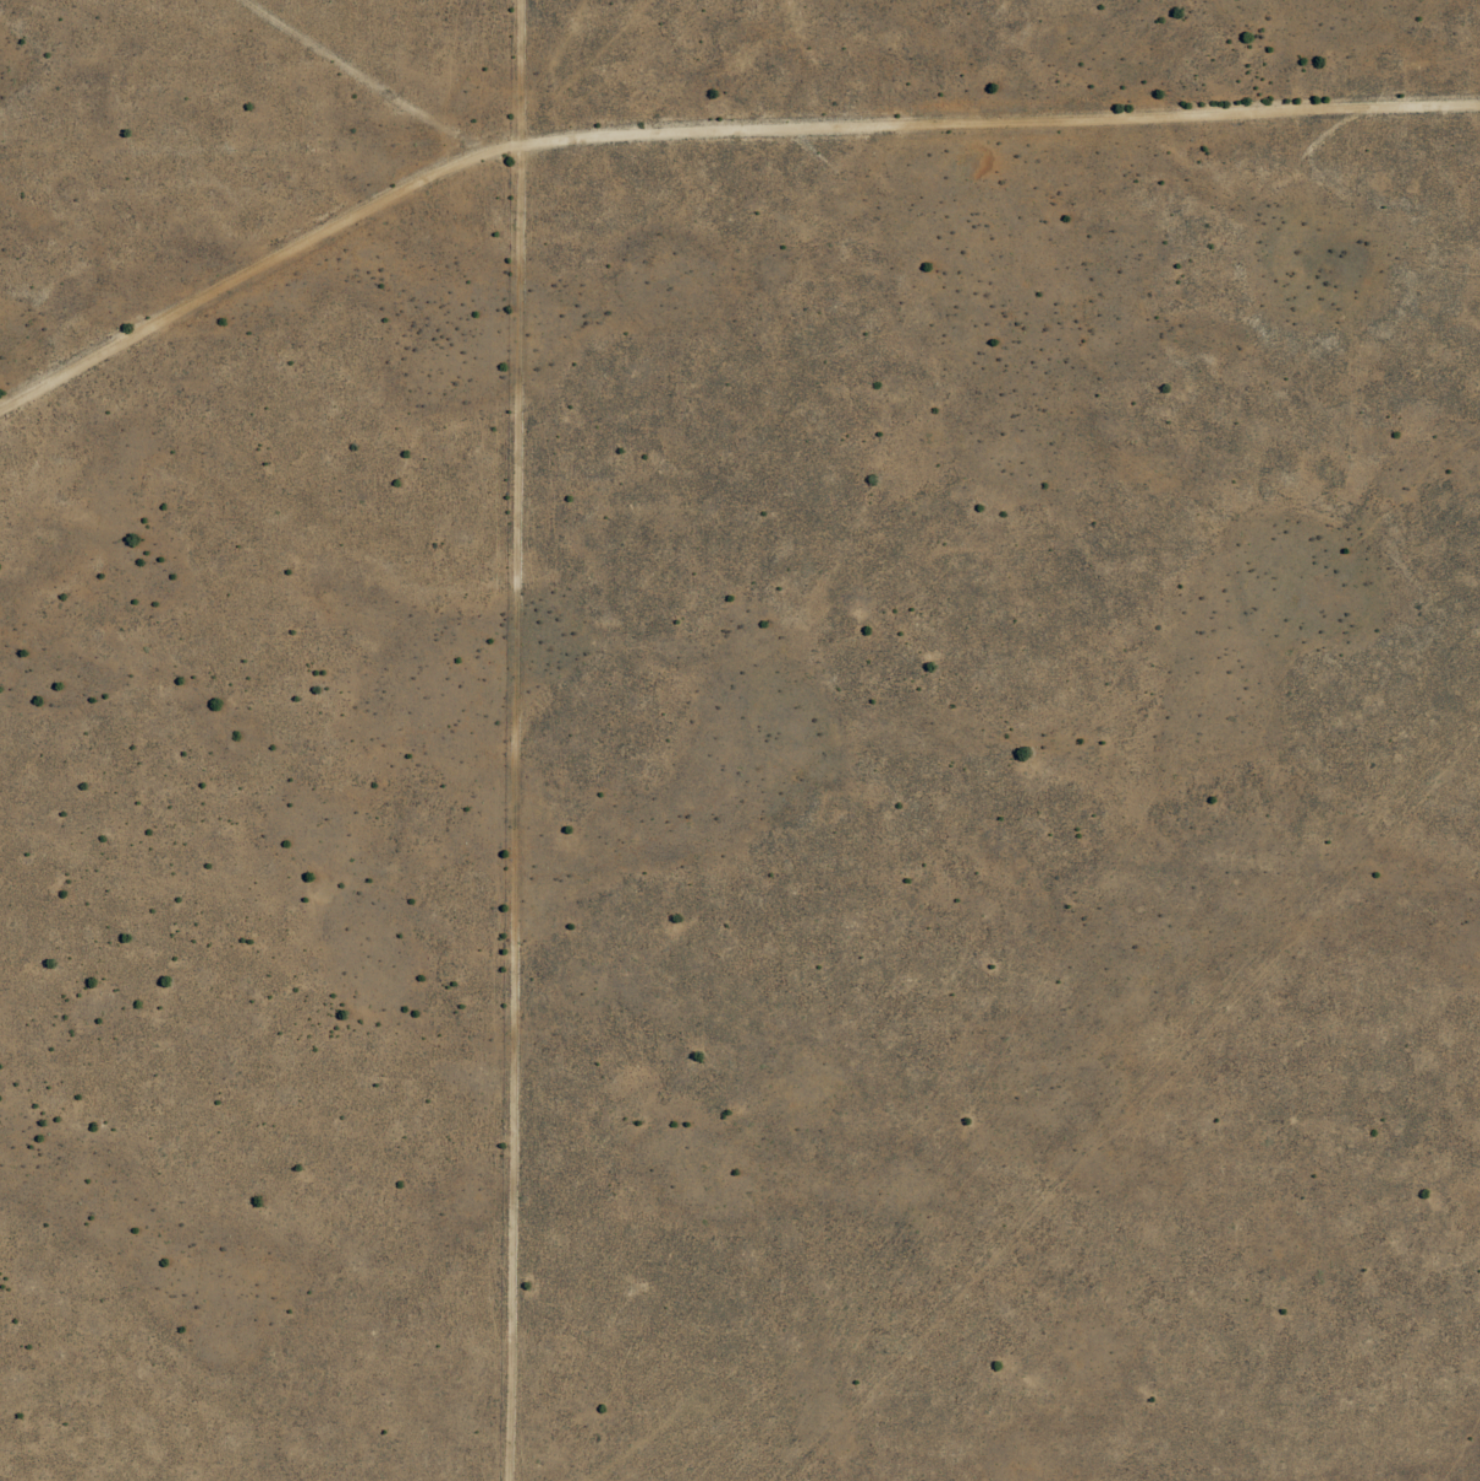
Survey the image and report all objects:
road: (402, 59)
road: (701, 114)

